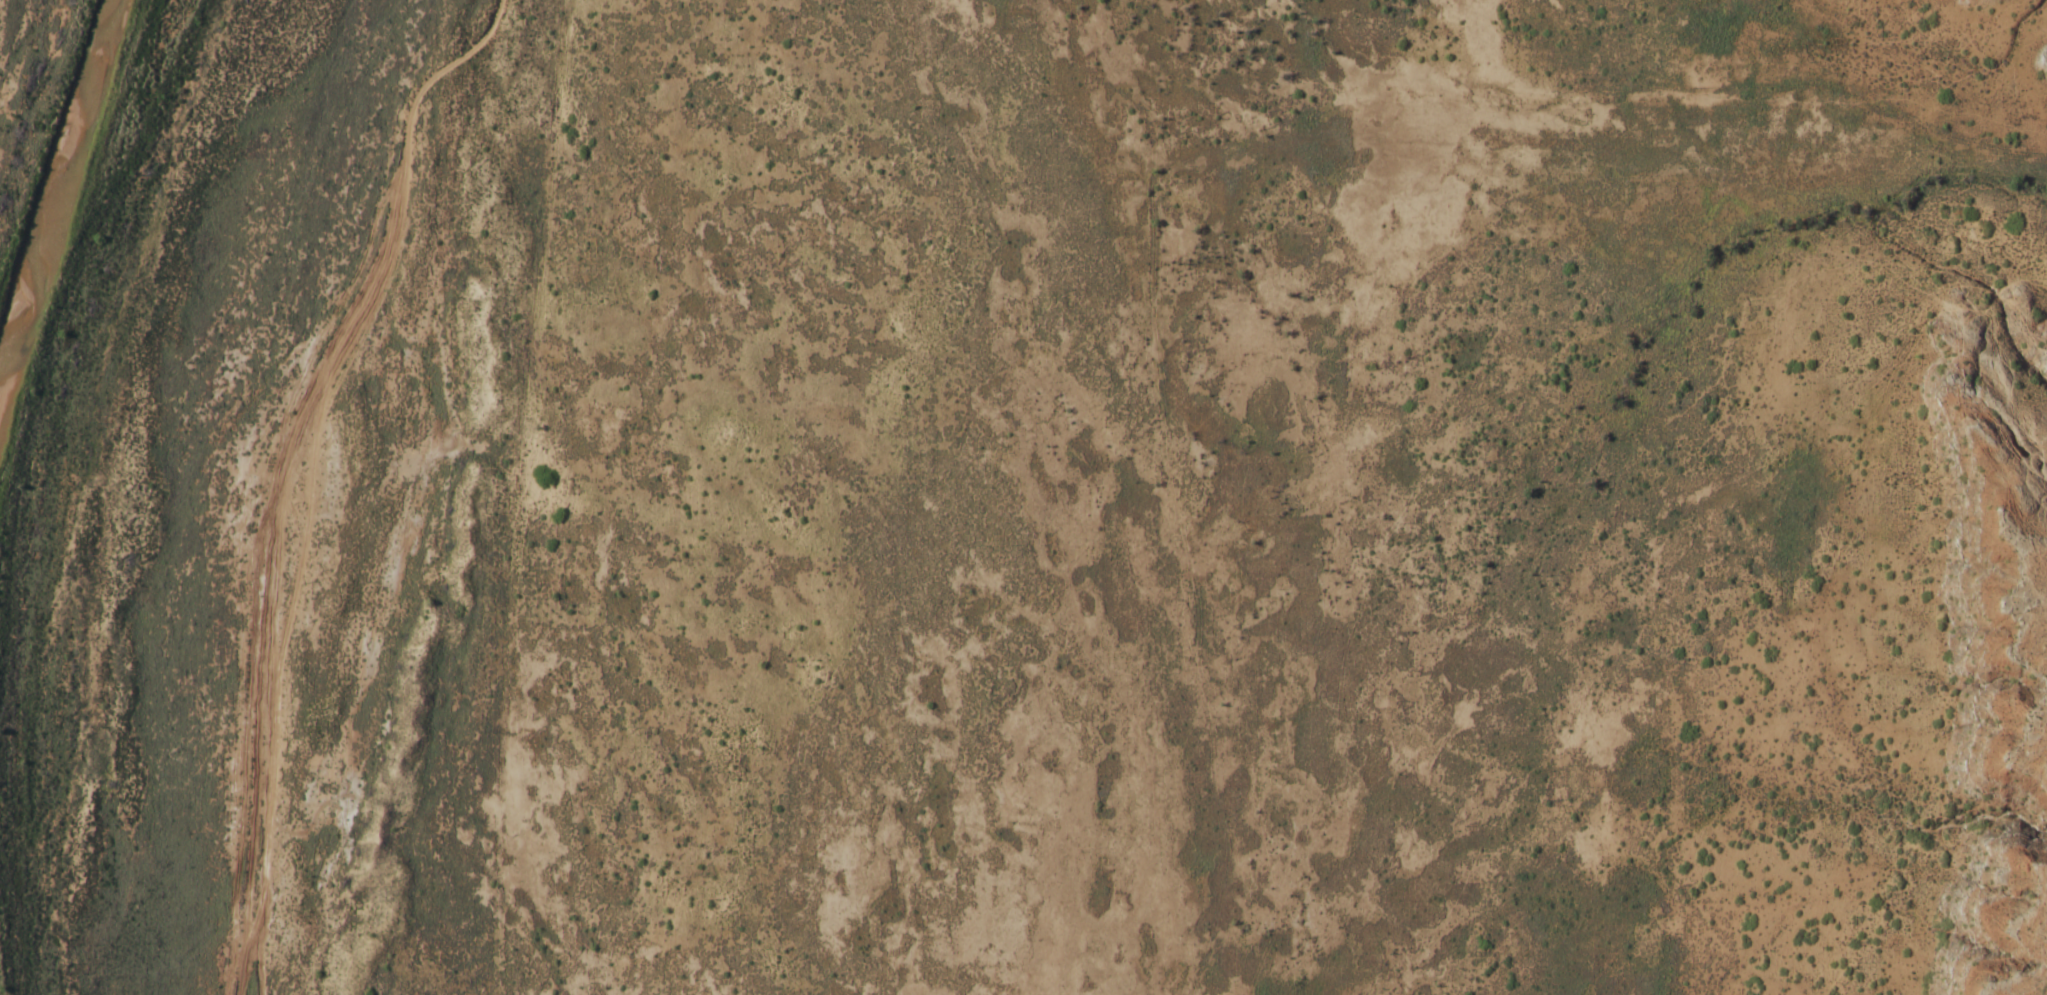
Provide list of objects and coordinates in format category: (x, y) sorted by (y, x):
road: (1188, 143)
river: (59, 211)
road: (311, 472)

